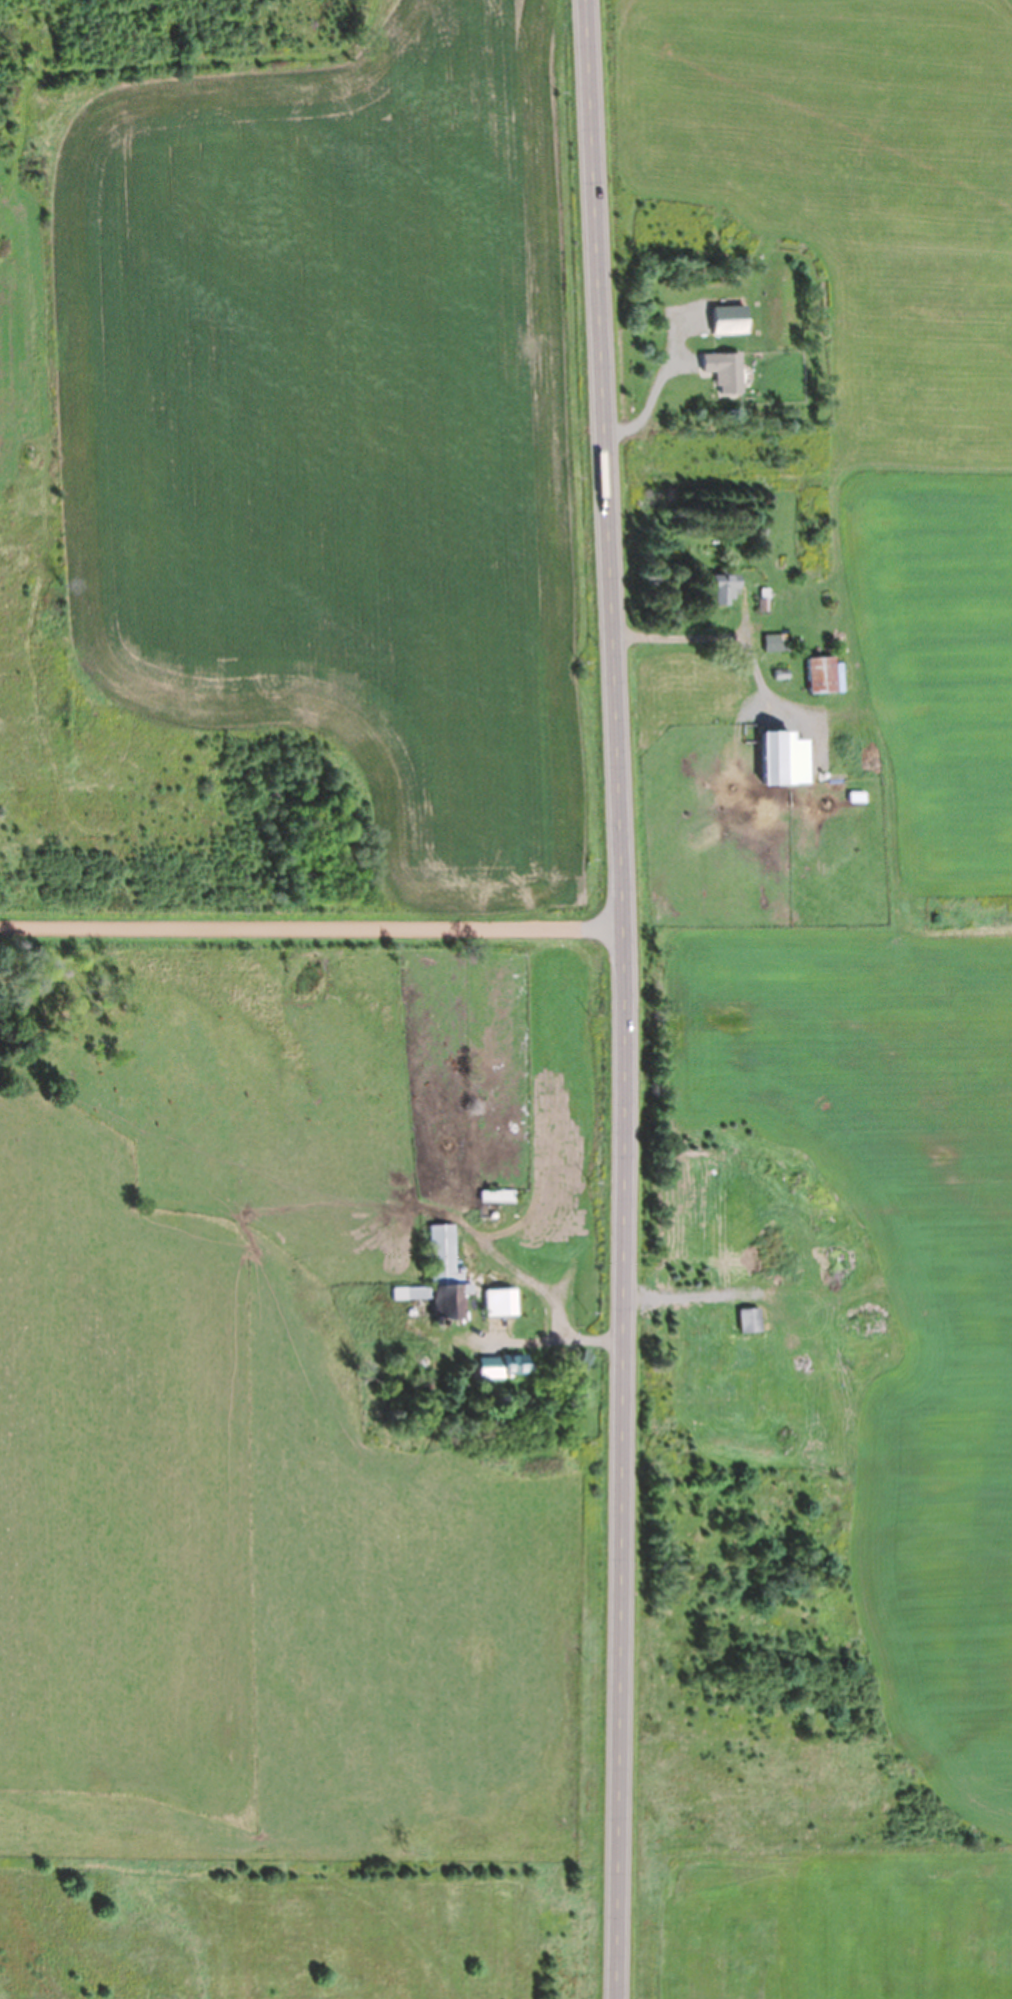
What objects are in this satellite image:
building: (730, 319)
building: (724, 370)
building: (724, 587)
building: (776, 642)
building: (821, 674)
building: (780, 757)
road: (312, 929)
road: (626, 999)
building: (443, 1277)
building: (501, 1303)
building: (750, 1321)
building: (744, 1353)
building: (505, 1366)

